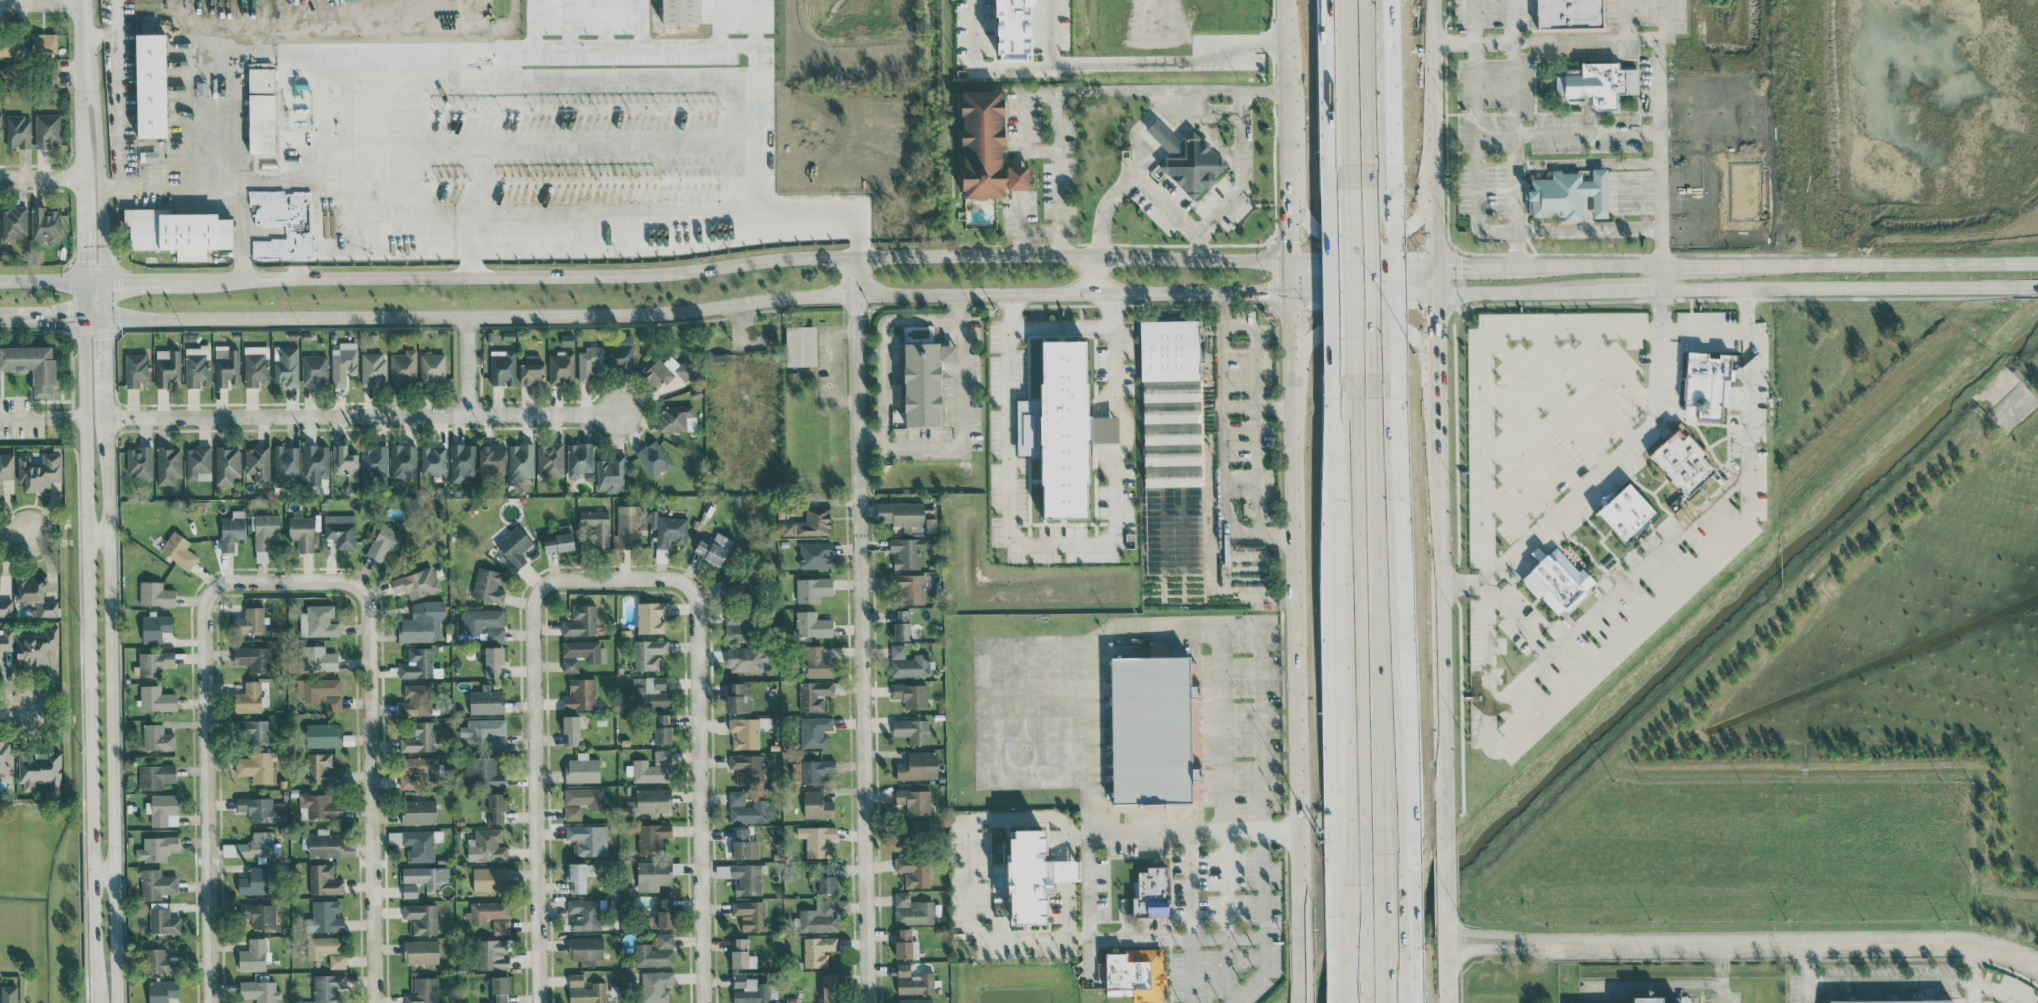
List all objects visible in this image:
road: (40, 4)
building: (676, 11)
building: (1568, 14)
road: (1474, 21)
building: (1010, 28)
road: (970, 30)
road: (100, 33)
road: (83, 37)
road: (1583, 39)
building: (43, 42)
road: (1289, 59)
road: (1659, 66)
road: (1137, 68)
road: (1004, 76)
building: (150, 85)
building: (1597, 85)
road: (1156, 91)
road: (117, 94)
road: (1368, 96)
road: (1346, 99)
road: (1200, 106)
road: (1513, 117)
building: (1, 124)
road: (355, 125)
building: (46, 129)
building: (18, 131)
road: (1433, 133)
road: (1653, 135)
road: (423, 148)
building: (984, 148)
road: (1040, 149)
road: (1476, 152)
building: (1186, 160)
road: (475, 161)
road: (1289, 162)
road: (233, 166)
road: (1130, 169)
road: (1240, 172)
road: (1017, 173)
road: (1057, 173)
road: (39, 177)
road: (169, 189)
building: (1568, 194)
road: (101, 195)
road: (1172, 212)
building: (13, 223)
building: (44, 223)
road: (1371, 227)
road: (1589, 228)
building: (175, 229)
road: (1038, 233)
traffic signals: (1289, 242)
traffic signals: (1315, 261)
road: (1363, 262)
road: (1738, 265)
traffic signals: (1460, 266)
road: (645, 275)
road: (1096, 275)
building: (1329, 278)
road: (1664, 279)
road: (1437, 281)
road: (1737, 291)
traffic signals: (1266, 295)
road: (1363, 296)
traffic signals: (1418, 296)
road: (1375, 297)
road: (1351, 302)
road: (700, 309)
road: (96, 317)
road: (50, 318)
traffic signals: (1436, 318)
road: (8, 319)
road: (1354, 329)
road: (1615, 329)
road: (1435, 331)
building: (567, 339)
building: (800, 346)
road: (885, 348)
building: (622, 353)
building: (589, 363)
road: (466, 365)
building: (31, 366)
building: (226, 366)
building: (503, 367)
building: (561, 367)
road: (1618, 368)
building: (532, 369)
building: (665, 371)
building: (921, 383)
road: (1583, 384)
building: (1707, 384)
road: (1545, 397)
road: (1435, 402)
building: (1170, 403)
road: (1108, 405)
road: (1259, 407)
road: (1253, 414)
road: (364, 415)
road: (964, 415)
building: (674, 417)
road: (42, 419)
road: (1352, 423)
road: (1105, 428)
building: (1062, 429)
road: (1532, 439)
road: (1225, 448)
road: (1108, 451)
road: (1614, 455)
building: (653, 458)
building: (491, 459)
building: (550, 459)
building: (579, 459)
building: (433, 460)
building: (257, 461)
building: (374, 461)
building: (403, 461)
building: (1682, 461)
building: (140, 462)
building: (345, 462)
building: (521, 462)
building: (198, 463)
building: (227, 464)
building: (168, 465)
building: (315, 465)
building: (463, 465)
building: (286, 467)
building: (6, 469)
building: (40, 471)
building: (611, 473)
road: (1520, 478)
building: (1626, 513)
building: (902, 516)
road: (1507, 516)
building: (809, 523)
building: (930, 525)
building: (596, 526)
building: (628, 527)
building: (232, 530)
building: (340, 530)
building: (1173, 530)
road: (98, 531)
building: (301, 531)
building: (667, 533)
road: (16, 534)
building: (263, 534)
road: (1486, 536)
road: (87, 538)
building: (559, 540)
building: (384, 542)
road: (1062, 542)
building: (514, 545)
building: (714, 548)
building: (178, 550)
building: (907, 551)
building: (815, 555)
road: (1701, 559)
building: (1557, 581)
building: (416, 583)
road: (1465, 583)
building: (488, 585)
road: (1617, 587)
building: (909, 588)
building: (812, 589)
road: (1296, 593)
building: (155, 594)
building: (35, 596)
building: (6, 607)
building: (650, 617)
road: (1515, 618)
building: (250, 620)
building: (318, 621)
building: (581, 621)
building: (422, 623)
building: (486, 623)
building: (902, 624)
building: (812, 625)
building: (154, 627)
building: (738, 627)
road: (1170, 628)
road: (859, 629)
road: (1382, 637)
building: (6, 639)
road: (1442, 639)
building: (35, 647)
building: (581, 653)
building: (649, 654)
building: (252, 658)
building: (319, 658)
building: (746, 658)
road: (112, 660)
building: (493, 661)
building: (817, 662)
building: (153, 663)
building: (417, 663)
building: (908, 663)
road: (1355, 667)
building: (321, 691)
building: (650, 692)
building: (580, 694)
building: (814, 695)
building: (911, 695)
building: (156, 698)
building: (248, 698)
building: (739, 698)
building: (416, 700)
building: (486, 701)
road: (17, 711)
building: (1146, 723)
building: (662, 728)
building: (571, 729)
building: (912, 730)
building: (746, 731)
building: (814, 731)
building: (485, 732)
building: (323, 735)
building: (157, 737)
building: (418, 737)
road: (533, 755)
road: (207, 756)
building: (662, 756)
road: (699, 756)
road: (370, 757)
building: (5, 758)
building: (918, 766)
building: (256, 767)
building: (748, 767)
building: (39, 768)
building: (321, 769)
building: (582, 769)
building: (416, 770)
building: (815, 771)
building: (648, 772)
building: (795, 772)
building: (486, 773)
building: (155, 776)
building: (585, 797)
building: (914, 800)
building: (649, 802)
building: (320, 805)
building: (817, 805)
building: (493, 806)
building: (261, 809)
building: (748, 809)
building: (162, 810)
road: (1087, 810)
building: (418, 811)
building: (572, 812)
road: (1225, 815)
road: (1261, 821)
road: (1195, 832)
building: (652, 837)
building: (588, 839)
building: (817, 840)
building: (416, 843)
building: (324, 844)
building: (256, 845)
building: (744, 845)
building: (486, 846)
building: (156, 848)
road: (78, 862)
road: (105, 868)
building: (913, 871)
building: (656, 874)
building: (426, 875)
building: (578, 876)
building: (1033, 876)
road: (1446, 878)
building: (489, 879)
building: (324, 880)
building: (824, 880)
road: (966, 880)
building: (254, 882)
building: (156, 884)
building: (409, 891)
road: (22, 898)
road: (45, 900)
building: (912, 910)
building: (584, 914)
building: (750, 914)
building: (259, 915)
building: (490, 915)
building: (663, 915)
building: (822, 915)
building: (326, 916)
road: (1192, 917)
building: (421, 918)
building: (163, 920)
road: (1391, 928)
road: (1518, 936)
road: (1176, 938)
road: (1816, 942)
building: (904, 943)
building: (323, 946)
road: (1362, 946)
building: (584, 948)
road: (1354, 948)
road: (1518, 950)
building: (420, 951)
building: (656, 951)
building: (818, 951)
building: (741, 954)
building: (252, 955)
building: (491, 955)
road: (1447, 958)
building: (160, 961)
building: (337, 961)
road: (1809, 961)
building: (903, 969)
road: (1720, 973)
road: (1971, 973)
building: (1135, 974)
road: (24, 975)
road: (1878, 980)
building: (916, 984)
building: (655, 985)
building: (328, 988)
building: (829, 988)
building: (499, 989)
building: (585, 990)
building: (749, 990)
building: (162, 991)
building: (259, 991)
building: (423, 991)
road: (1306, 992)
building: (8, 994)
road: (1394, 994)
road: (1395, 994)
building: (915, 1000)
building: (1645, 1000)
road: (1365, 1001)
building: (1896, 1001)

